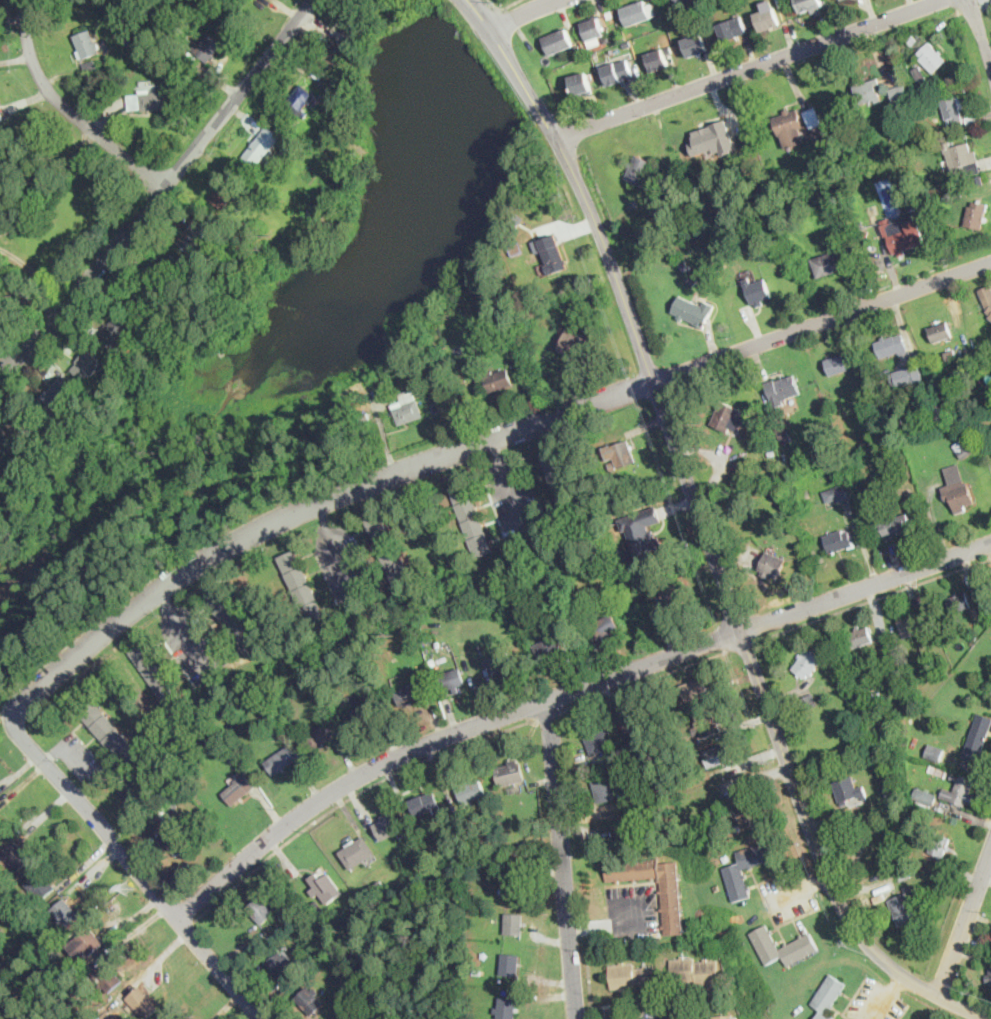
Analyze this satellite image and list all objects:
building: (682, 2)
building: (740, 5)
building: (811, 5)
road: (504, 6)
road: (520, 12)
building: (610, 12)
building: (638, 12)
building: (363, 15)
building: (767, 19)
building: (702, 21)
building: (592, 28)
building: (732, 28)
road: (981, 32)
building: (633, 33)
building: (130, 38)
building: (622, 38)
building: (912, 40)
building: (558, 41)
building: (626, 42)
building: (87, 44)
building: (695, 45)
building: (208, 47)
building: (577, 49)
building: (587, 51)
building: (341, 53)
building: (595, 56)
building: (658, 58)
building: (931, 58)
road: (299, 63)
building: (91, 67)
road: (748, 68)
building: (618, 72)
building: (920, 74)
building: (342, 82)
building: (327, 84)
building: (581, 85)
building: (868, 91)
building: (900, 94)
building: (148, 99)
building: (301, 99)
building: (322, 102)
road: (68, 109)
building: (953, 109)
building: (921, 112)
building: (1, 114)
building: (972, 119)
building: (789, 128)
building: (817, 128)
building: (269, 135)
building: (288, 144)
building: (717, 144)
building: (258, 153)
building: (961, 159)
building: (640, 170)
road: (160, 189)
building: (949, 193)
building: (223, 195)
building: (249, 201)
building: (976, 215)
building: (523, 224)
building: (902, 233)
building: (194, 237)
building: (514, 246)
building: (553, 254)
building: (828, 264)
building: (720, 266)
building: (685, 267)
building: (168, 268)
building: (693, 280)
building: (758, 291)
building: (513, 292)
road: (29, 294)
road: (91, 295)
building: (987, 297)
building: (141, 299)
road: (626, 306)
building: (693, 311)
building: (990, 317)
building: (506, 331)
building: (116, 332)
building: (940, 333)
building: (166, 335)
building: (577, 344)
building: (892, 346)
building: (986, 351)
building: (950, 353)
building: (963, 358)
building: (839, 364)
building: (85, 365)
building: (905, 377)
building: (498, 380)
building: (865, 385)
building: (782, 390)
building: (57, 393)
building: (357, 400)
building: (408, 407)
building: (729, 417)
building: (17, 428)
building: (782, 429)
road: (476, 445)
building: (964, 449)
building: (623, 454)
building: (990, 454)
building: (770, 459)
building: (611, 464)
road: (508, 484)
building: (883, 486)
building: (763, 487)
building: (957, 488)
building: (564, 490)
building: (808, 493)
building: (841, 495)
building: (471, 520)
building: (894, 526)
building: (642, 529)
building: (839, 541)
road: (335, 548)
building: (389, 550)
building: (772, 565)
building: (302, 587)
road: (866, 587)
building: (979, 594)
road: (874, 599)
building: (674, 600)
building: (959, 603)
building: (250, 607)
building: (648, 617)
building: (234, 621)
building: (976, 621)
building: (914, 623)
building: (605, 626)
road: (186, 631)
building: (650, 633)
building: (861, 637)
road: (743, 645)
building: (547, 649)
building: (432, 661)
building: (938, 661)
building: (498, 663)
building: (807, 663)
road: (644, 667)
building: (158, 678)
building: (452, 680)
road: (647, 680)
building: (842, 684)
building: (694, 690)
building: (863, 690)
building: (408, 695)
building: (808, 702)
building: (855, 712)
building: (365, 714)
road: (550, 715)
building: (706, 724)
building: (293, 726)
building: (636, 728)
building: (110, 734)
building: (319, 734)
building: (978, 739)
building: (864, 741)
building: (600, 742)
building: (732, 748)
building: (928, 750)
road: (55, 751)
building: (717, 756)
building: (234, 758)
road: (82, 759)
building: (282, 760)
building: (968, 766)
building: (509, 773)
building: (631, 774)
road: (346, 784)
road: (86, 786)
building: (604, 788)
building: (888, 789)
building: (239, 790)
building: (848, 790)
building: (960, 790)
building: (471, 791)
building: (924, 796)
road: (352, 797)
building: (545, 802)
building: (425, 804)
building: (172, 805)
building: (746, 811)
building: (165, 814)
building: (440, 816)
building: (389, 825)
building: (2, 829)
building: (632, 836)
building: (913, 837)
building: (177, 842)
building: (445, 842)
building: (939, 845)
building: (523, 847)
building: (395, 850)
building: (357, 853)
building: (16, 855)
road: (821, 859)
road: (561, 860)
road: (135, 867)
building: (733, 871)
building: (906, 874)
building: (15, 875)
building: (386, 880)
building: (512, 884)
building: (40, 885)
building: (380, 885)
building: (324, 886)
power tower: (128, 888)
road: (801, 892)
building: (879, 897)
building: (672, 900)
building: (906, 907)
building: (312, 908)
building: (261, 909)
building: (66, 913)
building: (514, 924)
road: (644, 924)
road: (965, 924)
road: (593, 929)
building: (84, 944)
building: (800, 947)
building: (509, 963)
building: (281, 966)
building: (695, 970)
building: (104, 971)
building: (634, 977)
building: (989, 978)
road: (590, 984)
building: (828, 997)
road: (887, 997)
building: (309, 1000)
building: (141, 1002)
building: (506, 1008)
building: (723, 1016)
road: (979, 1016)
road: (594, 1018)

